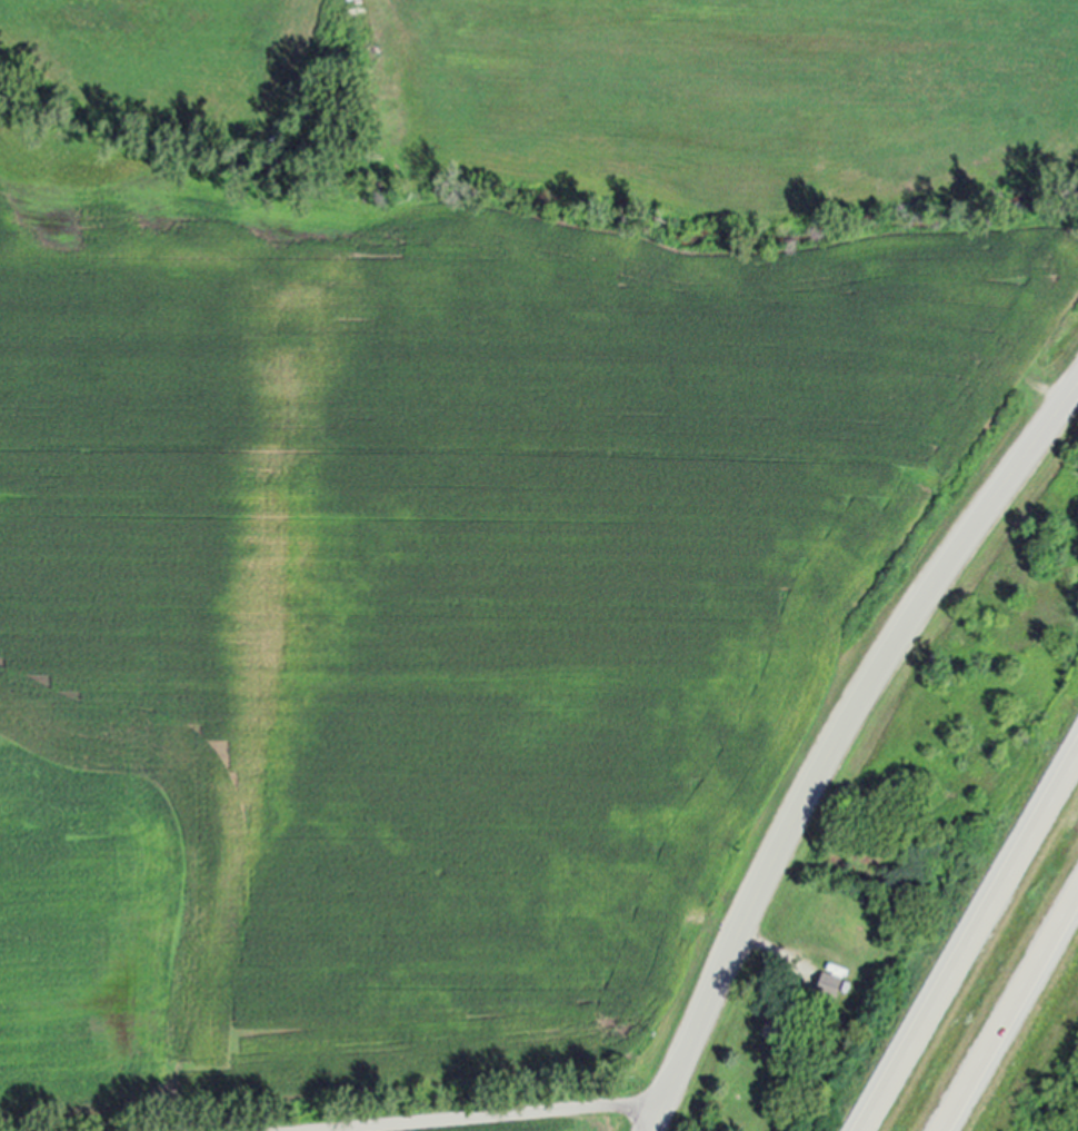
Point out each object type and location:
road: (837, 742)
road: (974, 949)
road: (1011, 1015)
building: (779, 1020)
road: (495, 1115)

